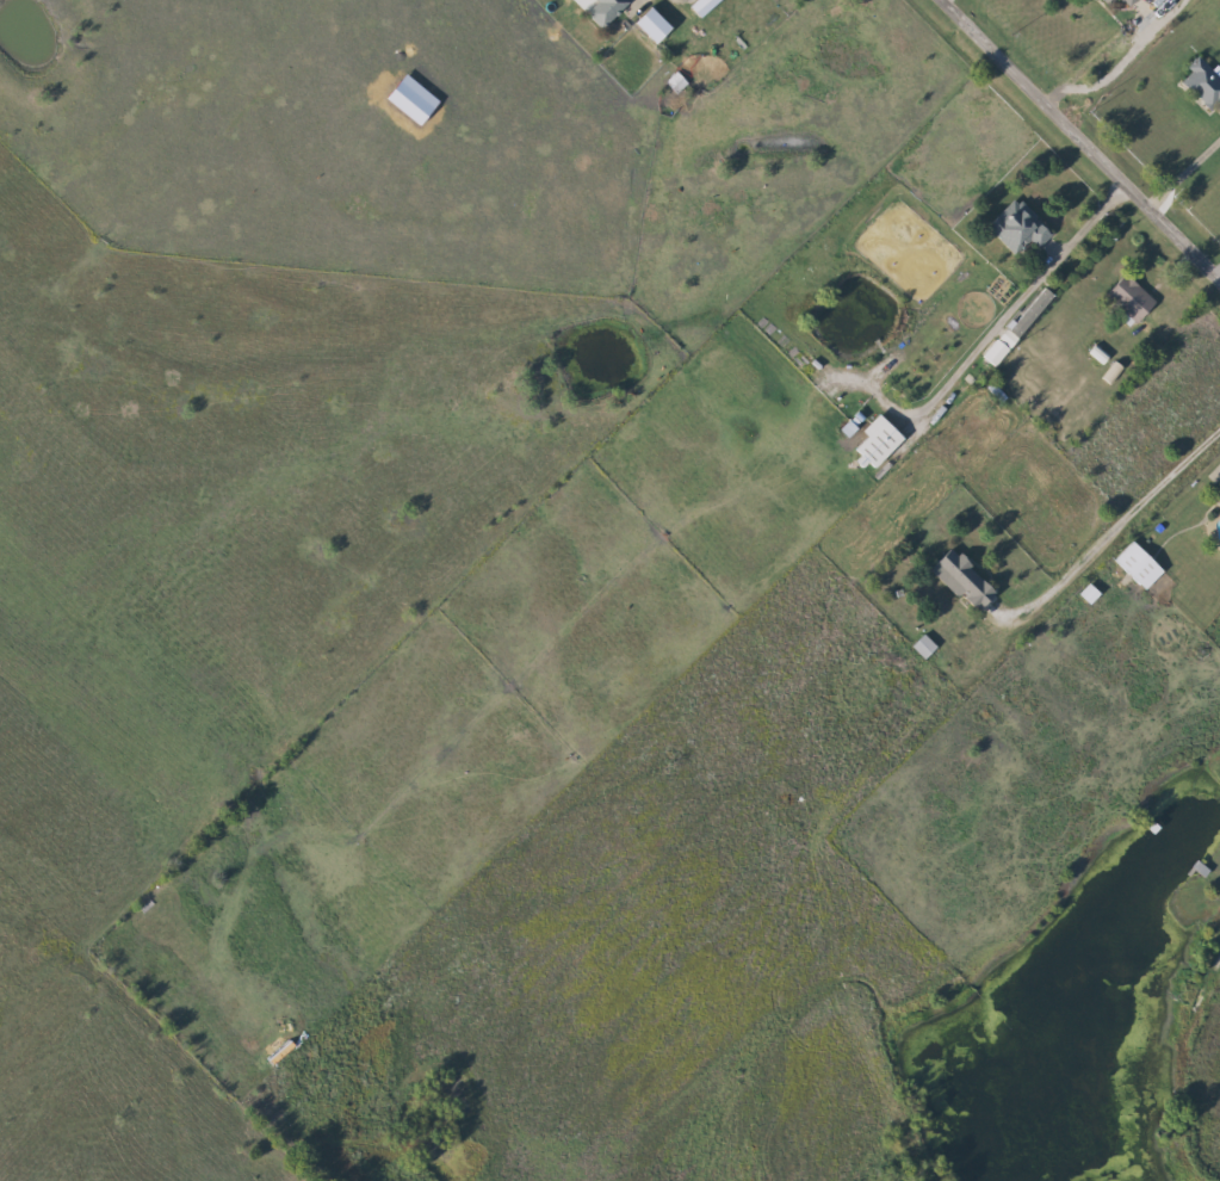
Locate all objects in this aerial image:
building: (1106, 1)
building: (1123, 2)
building: (601, 10)
road: (1106, 56)
building: (1200, 85)
road: (1085, 136)
road: (1185, 172)
road: (1094, 223)
building: (1015, 227)
building: (1125, 297)
building: (871, 440)
building: (1218, 499)
road: (1114, 534)
building: (1134, 565)
building: (956, 580)

